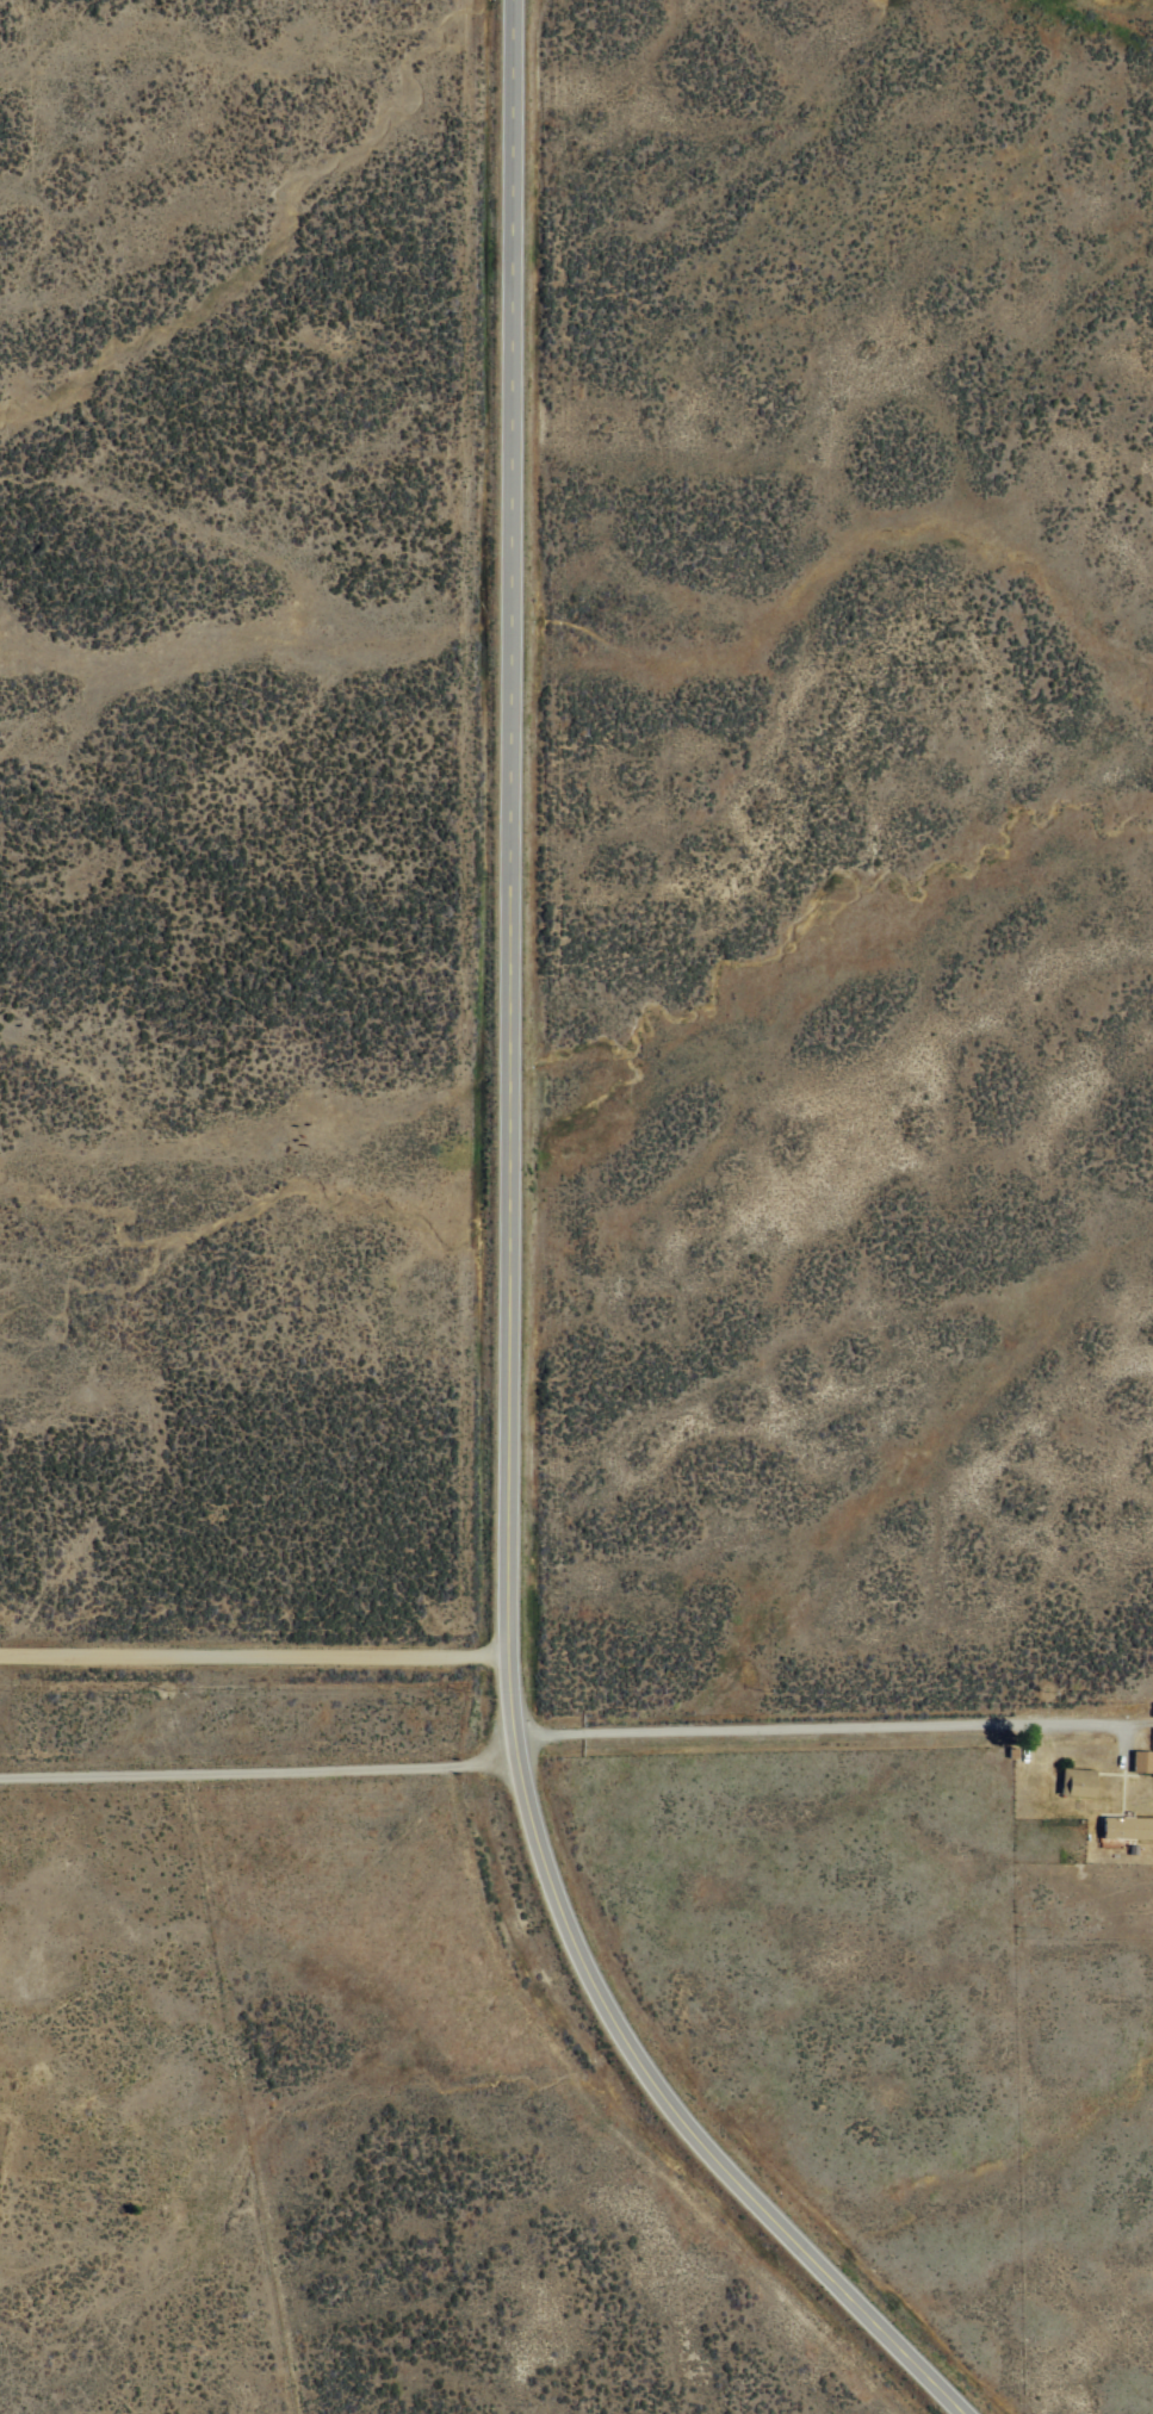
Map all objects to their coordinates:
crop: (627, 1031)
road: (504, 1276)
road: (252, 1683)
road: (829, 1687)
road: (259, 1770)

